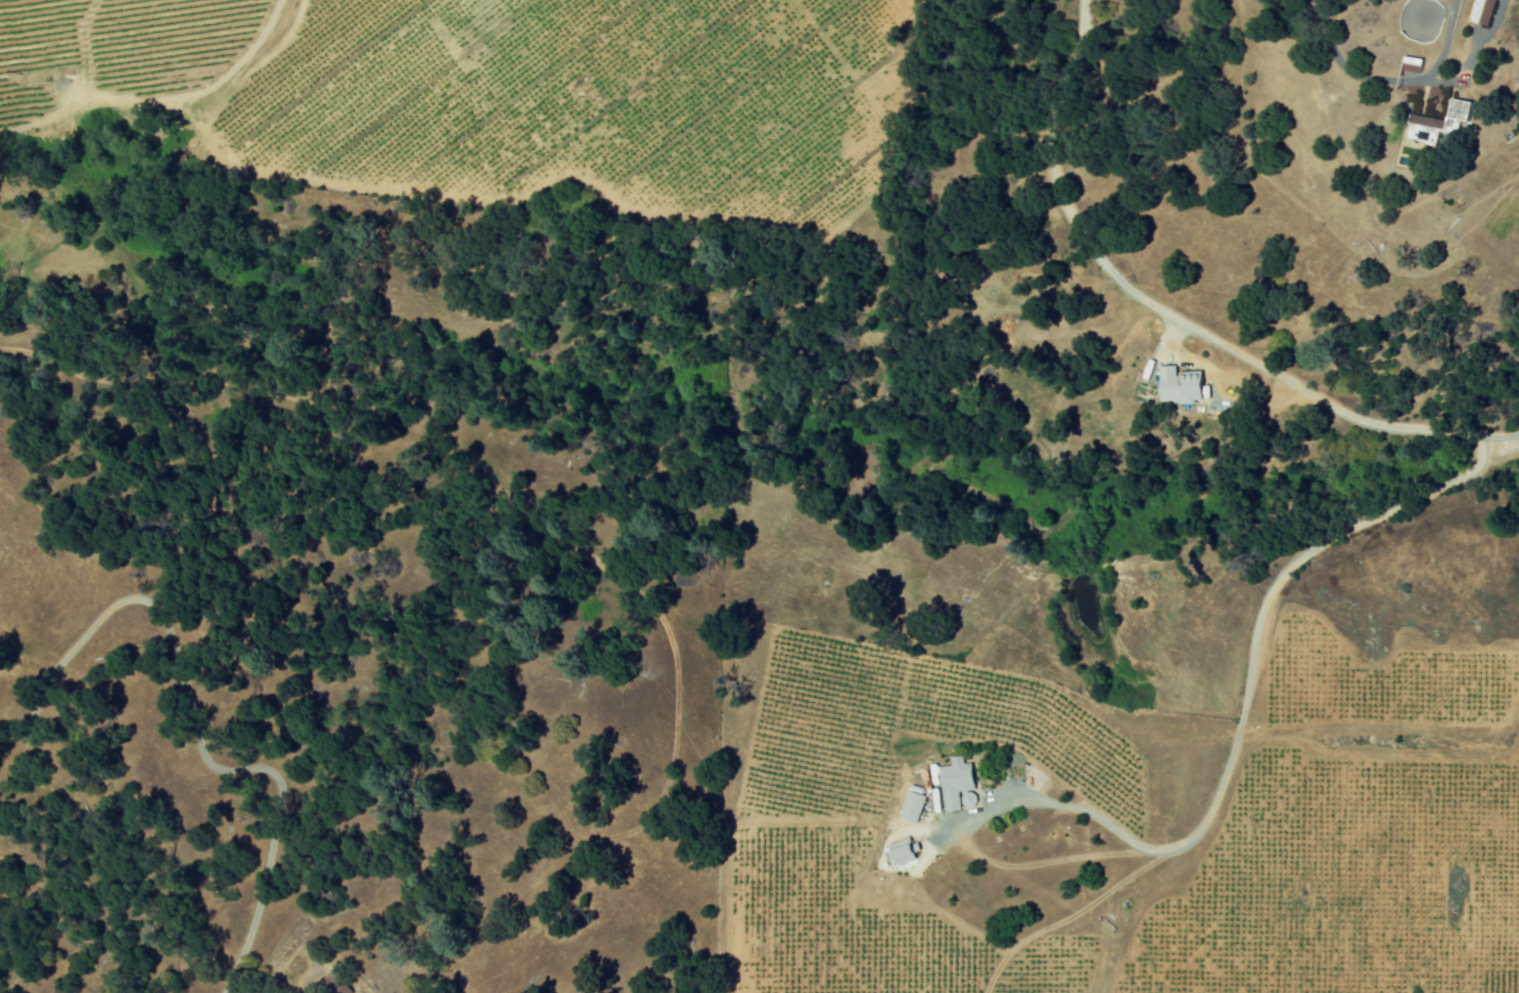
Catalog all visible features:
building: (1484, 12)
road: (1445, 45)
road: (1467, 55)
road: (1345, 71)
building: (1441, 123)
building: (1183, 386)
road: (1497, 436)
road: (1459, 478)
building: (957, 782)
building: (914, 806)
road: (1103, 821)
building: (904, 851)
road: (1242, 928)
road: (1434, 968)

